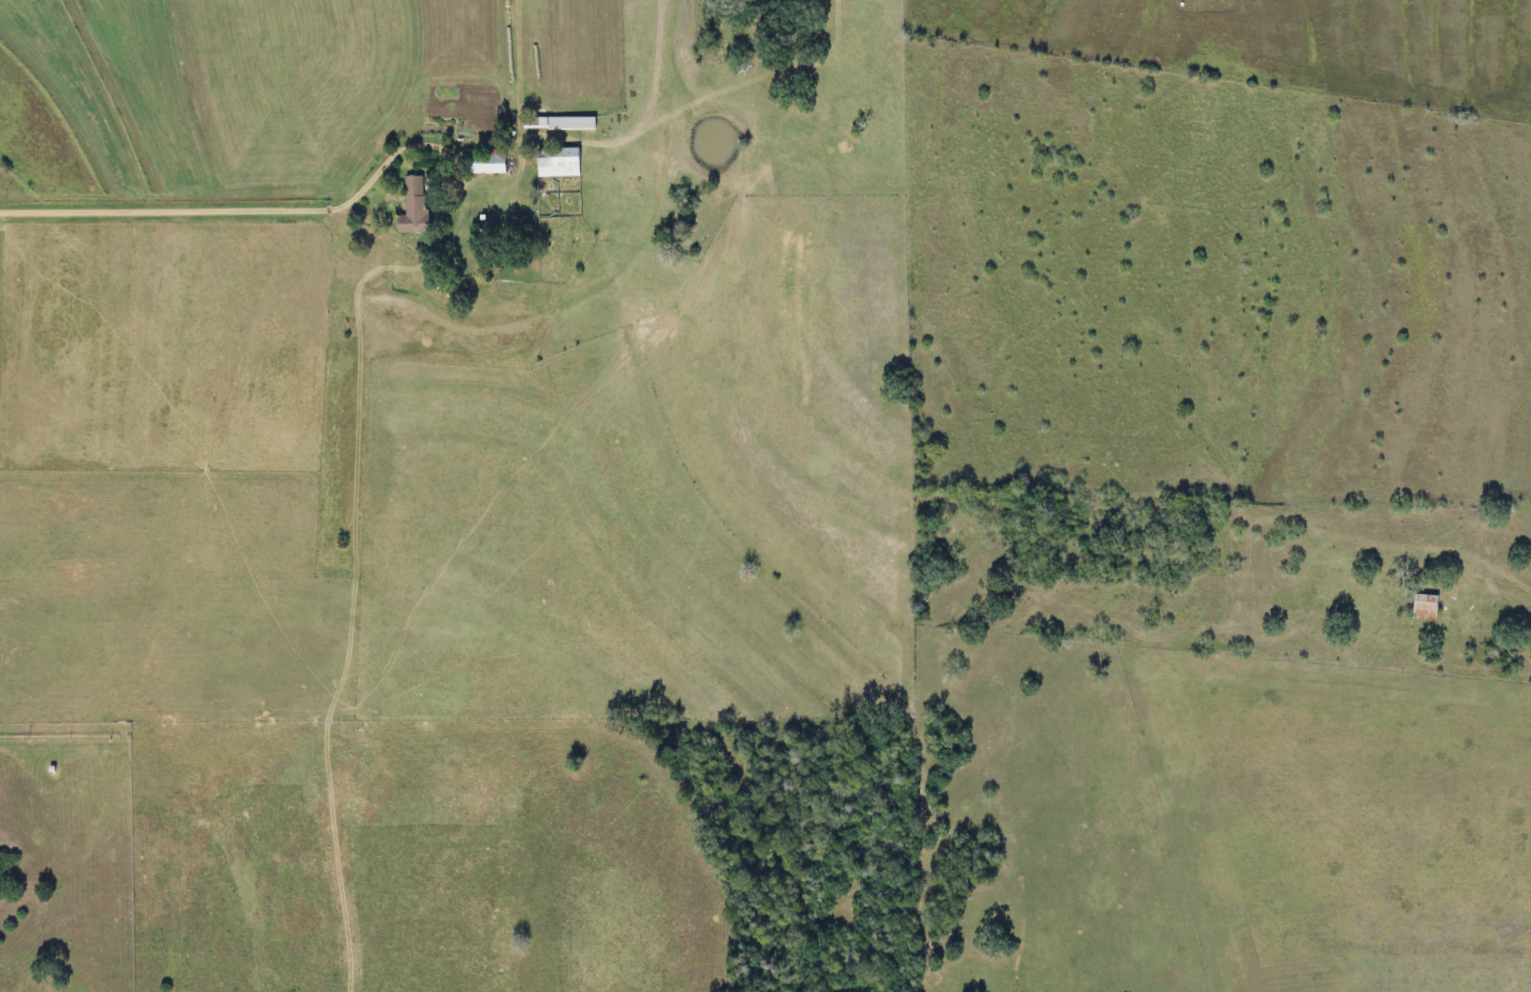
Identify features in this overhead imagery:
building: (564, 123)
building: (563, 162)
building: (493, 164)
building: (419, 206)
road: (366, 305)
building: (1415, 608)

